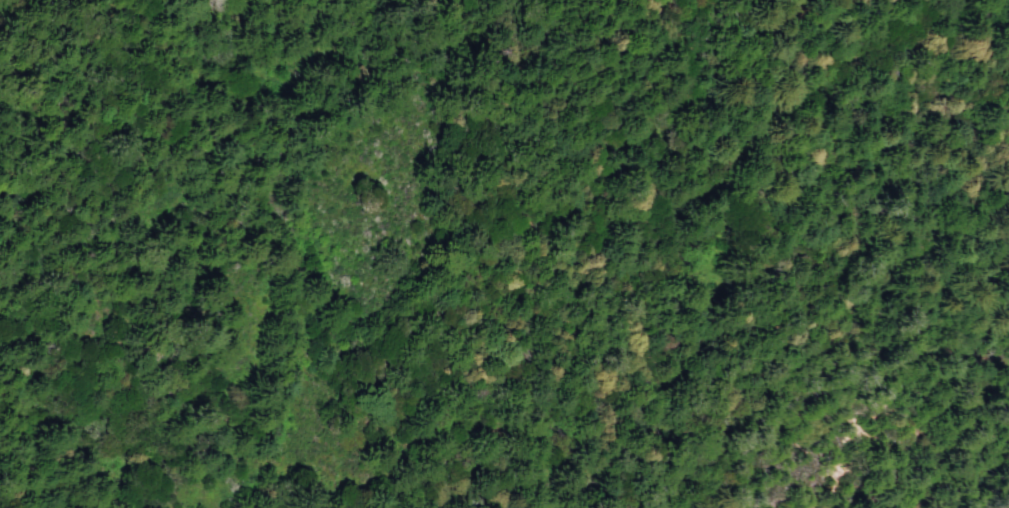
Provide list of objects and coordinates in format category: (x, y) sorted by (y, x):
road: (904, 333)

